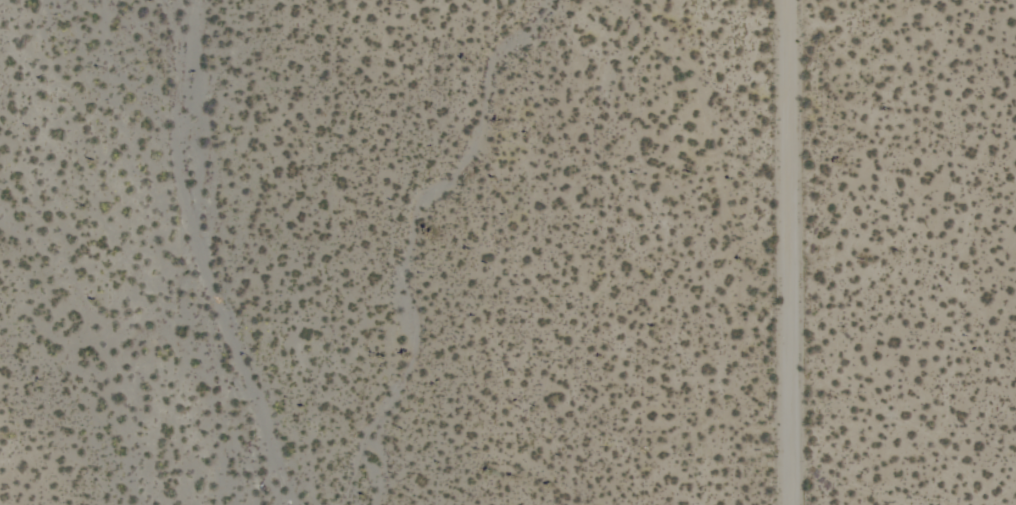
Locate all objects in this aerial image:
road: (793, 252)

